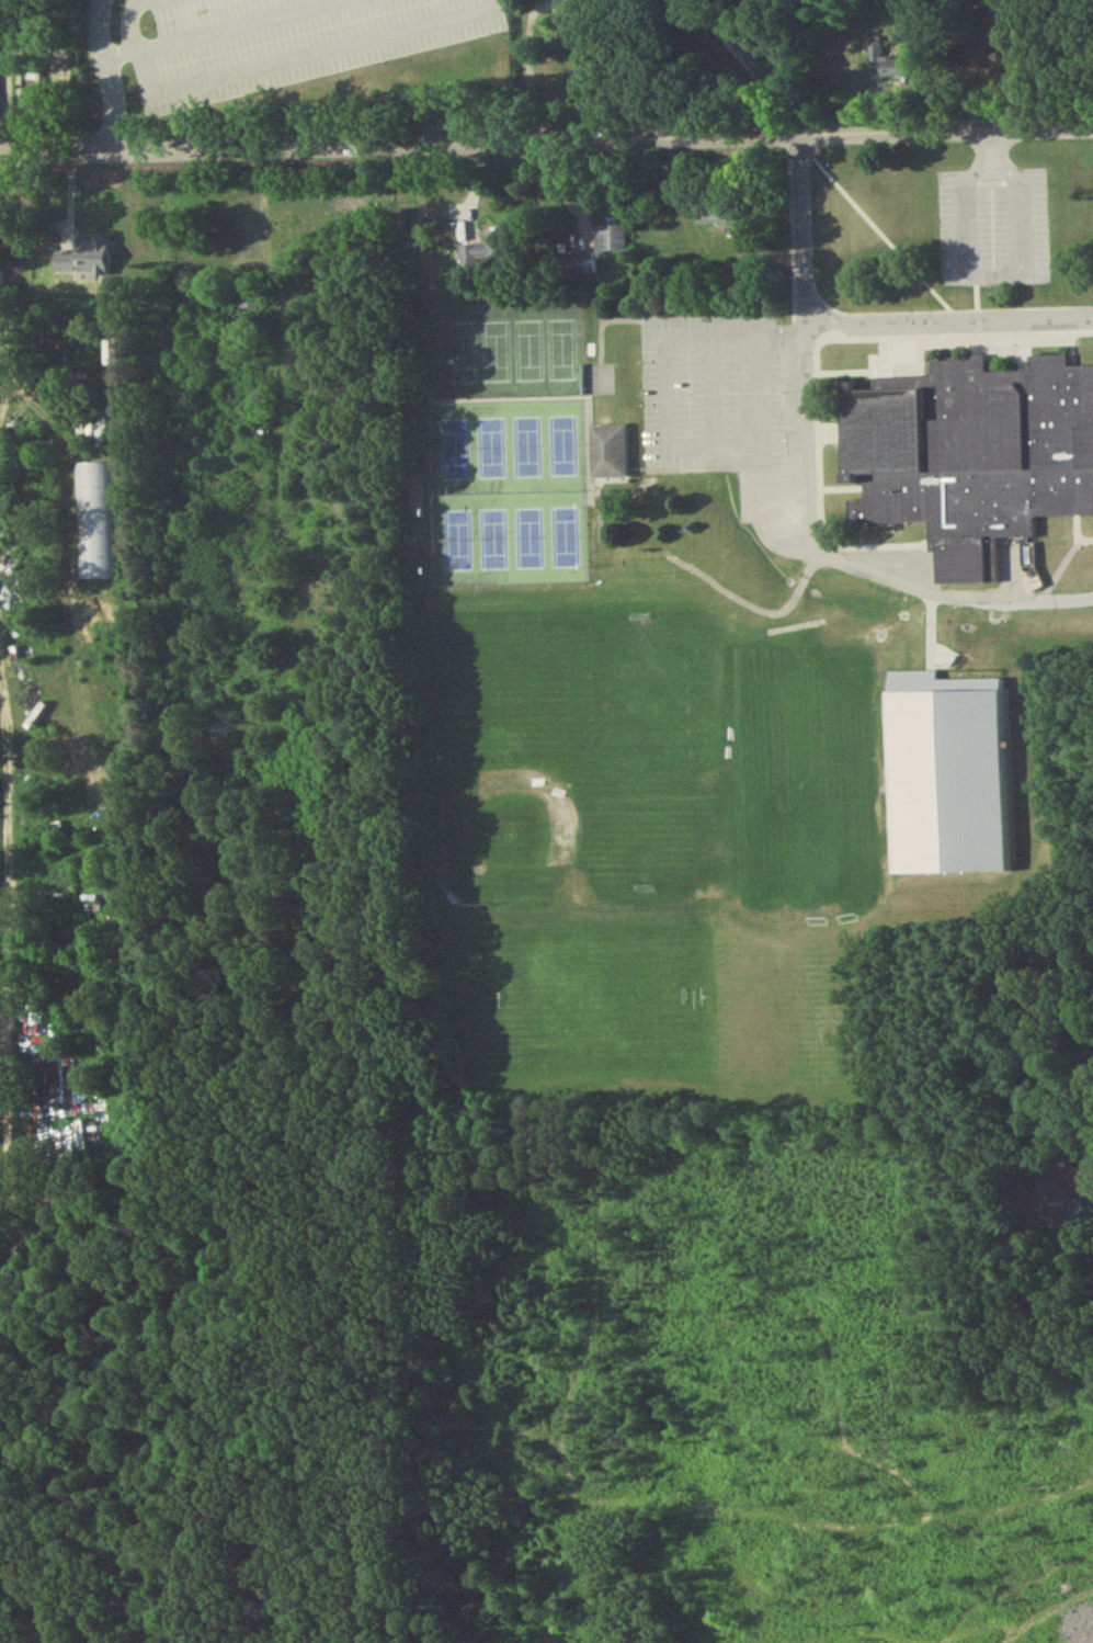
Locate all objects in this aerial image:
road: (132, 16)
road: (237, 32)
parking lot: (287, 44)
road: (309, 60)
building: (886, 68)
road: (107, 76)
road: (546, 143)
building: (717, 219)
parking lot: (993, 233)
building: (228, 234)
building: (607, 243)
building: (482, 254)
building: (83, 263)
road: (991, 279)
road: (5, 290)
building: (246, 304)
road: (861, 325)
road: (759, 395)
road: (711, 397)
road: (664, 398)
parking lot: (710, 398)
park: (506, 445)
building: (607, 456)
building: (970, 458)
building: (94, 494)
road: (822, 563)
park: (650, 761)
park: (859, 769)
road: (8, 823)
park: (511, 828)
park: (583, 1004)
building: (1058, 1203)

